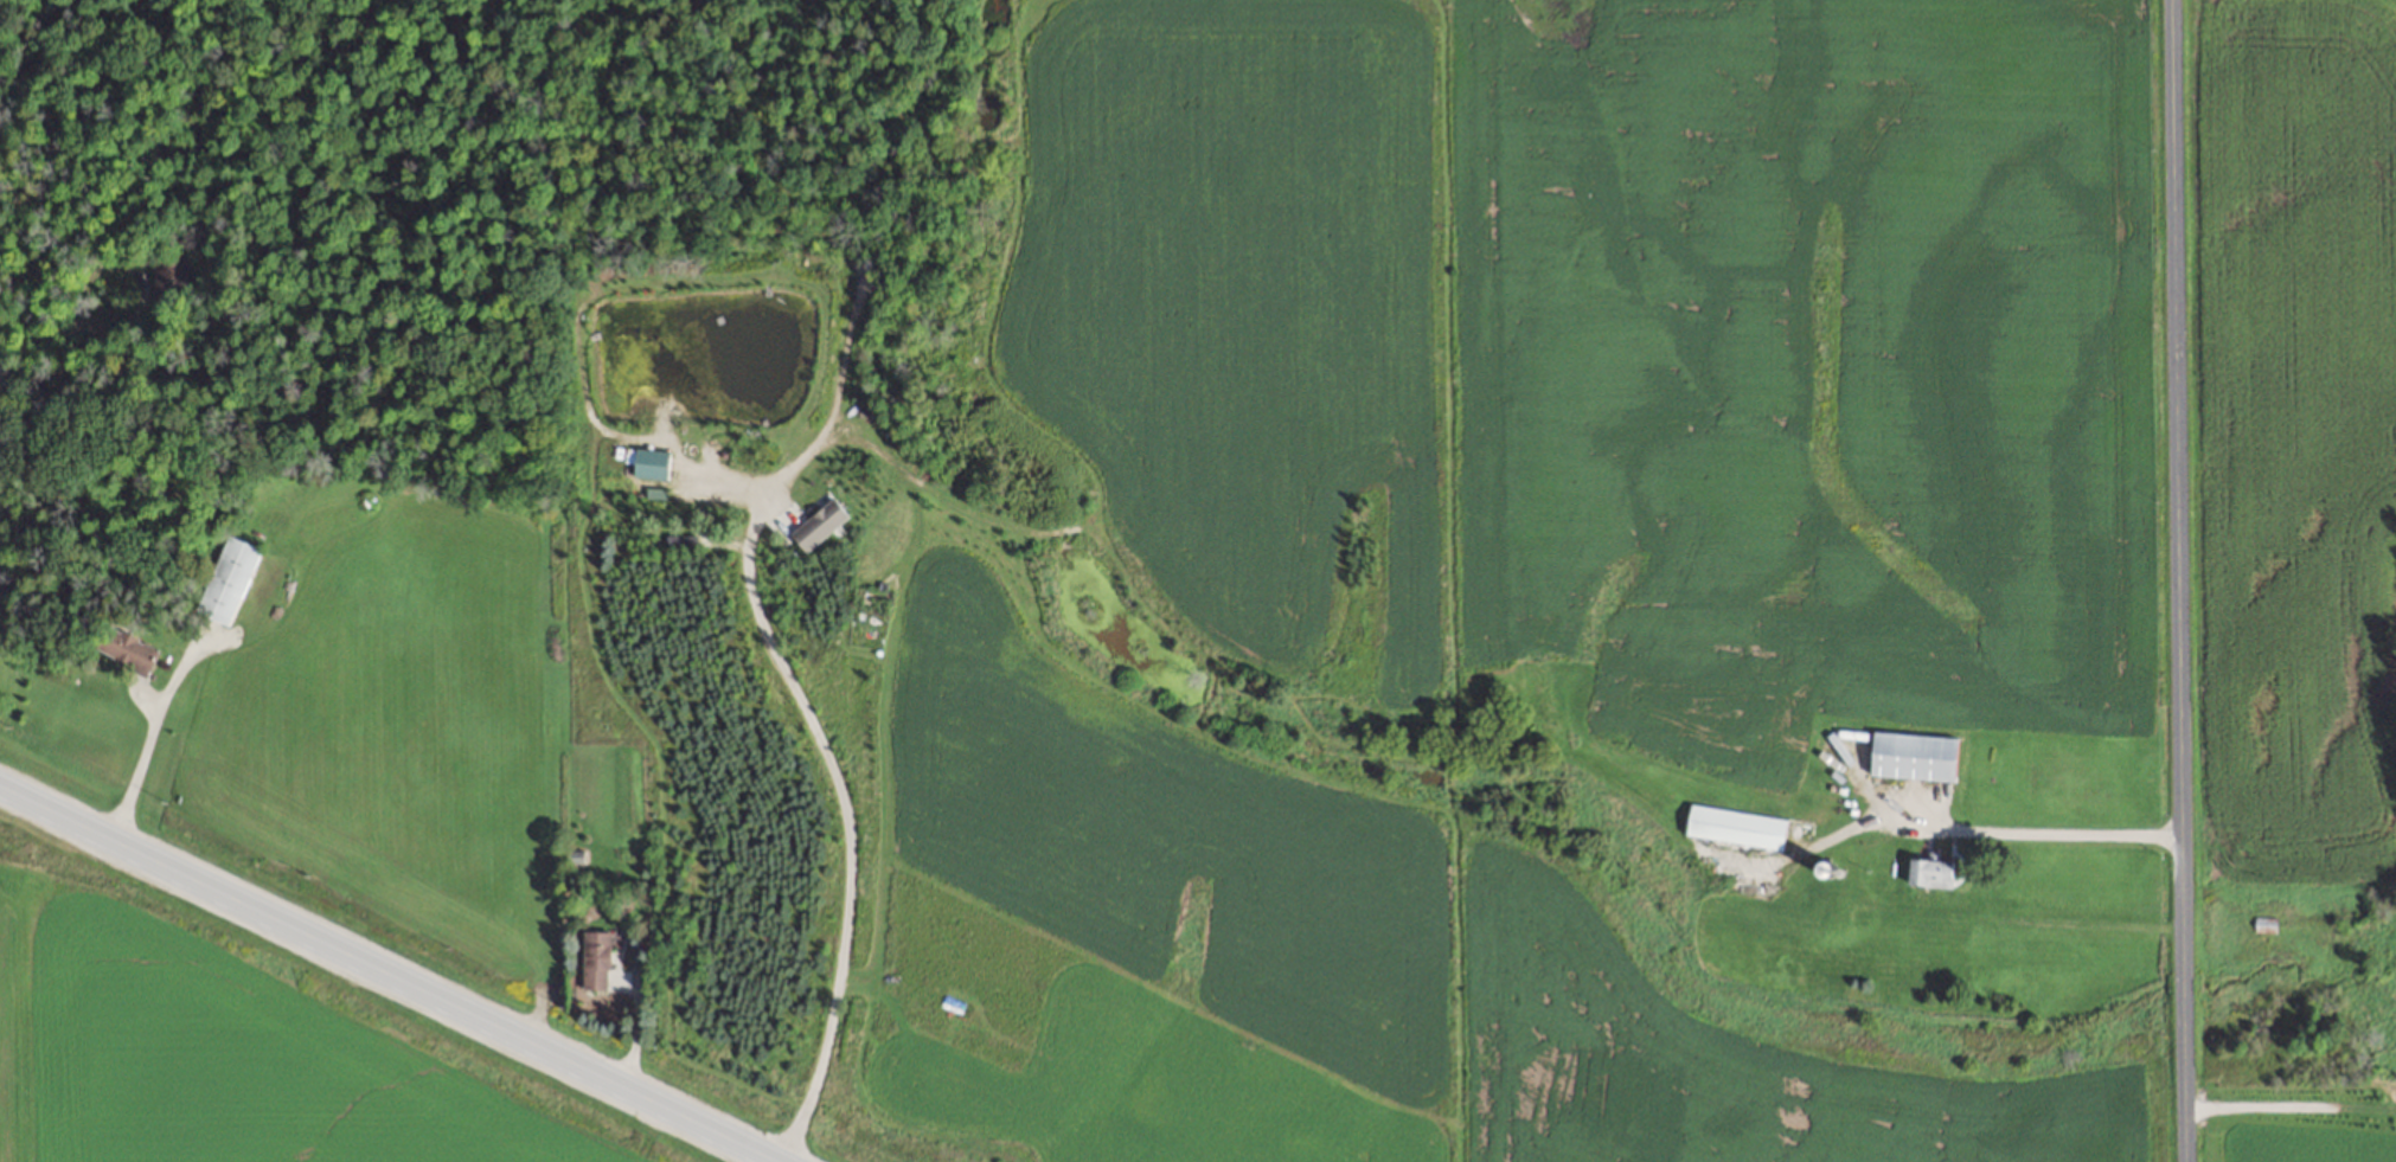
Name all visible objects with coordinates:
building: (169, 277)
building: (648, 463)
building: (226, 579)
road: (2180, 580)
building: (124, 648)
building: (1913, 755)
building: (1856, 814)
road: (848, 820)
road: (2057, 832)
building: (1772, 841)
building: (1930, 872)
building: (2263, 924)
building: (595, 961)
road: (390, 972)

